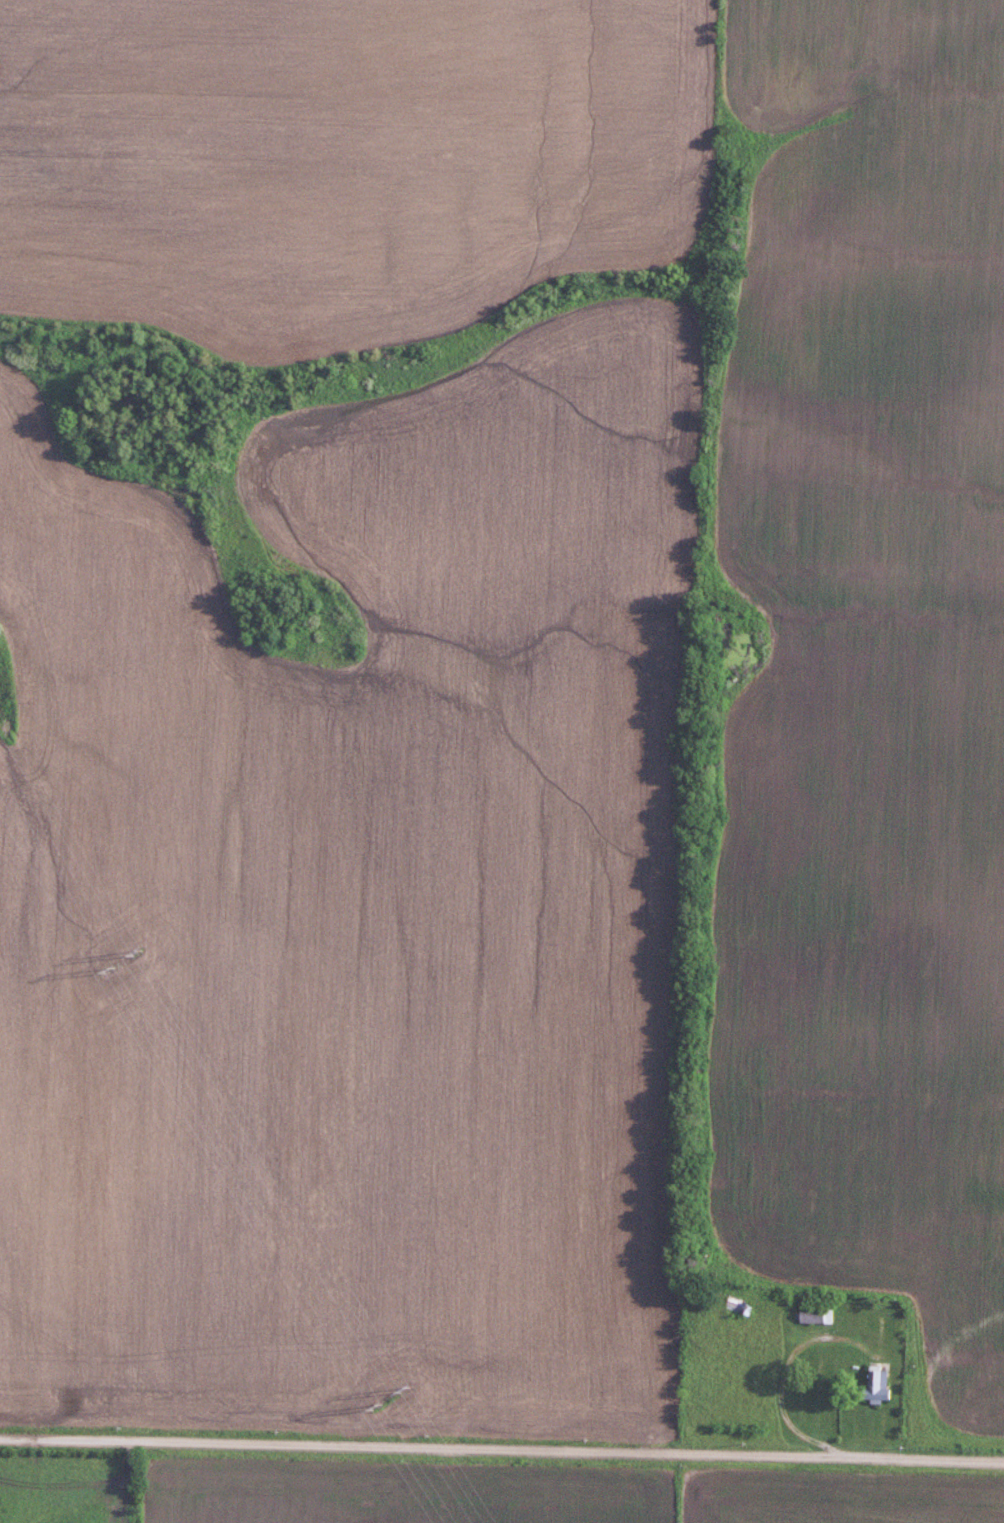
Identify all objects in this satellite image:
power tower: (134, 951)
power tower: (102, 968)
building: (814, 1315)
building: (876, 1383)
power tower: (402, 1388)
road: (786, 1401)
power tower: (370, 1405)
road: (502, 1447)

